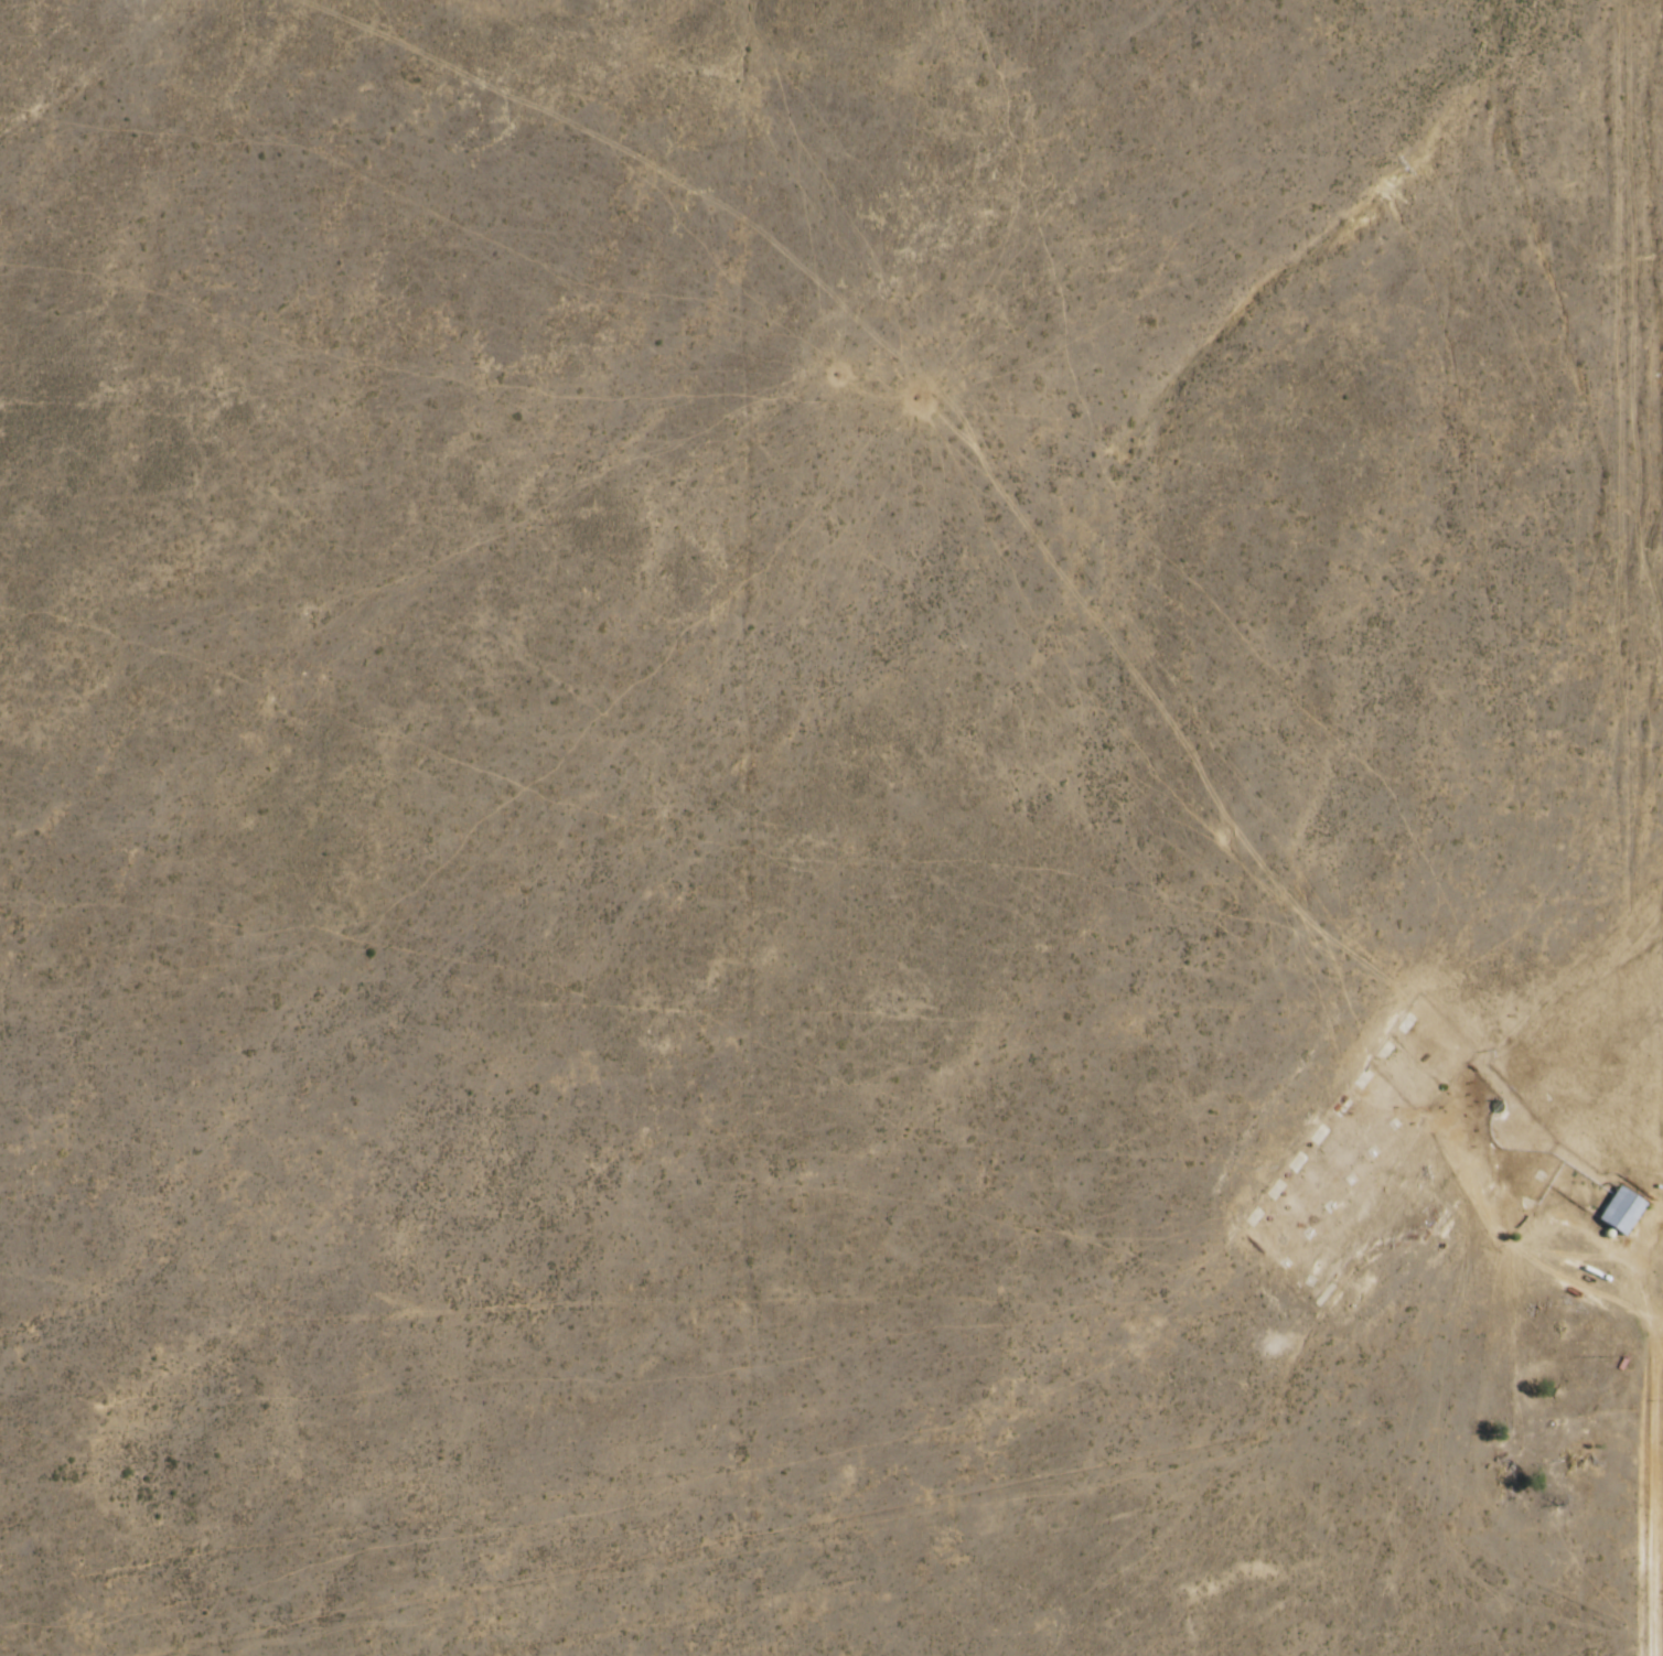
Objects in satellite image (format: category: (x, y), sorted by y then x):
road: (1650, 1421)

